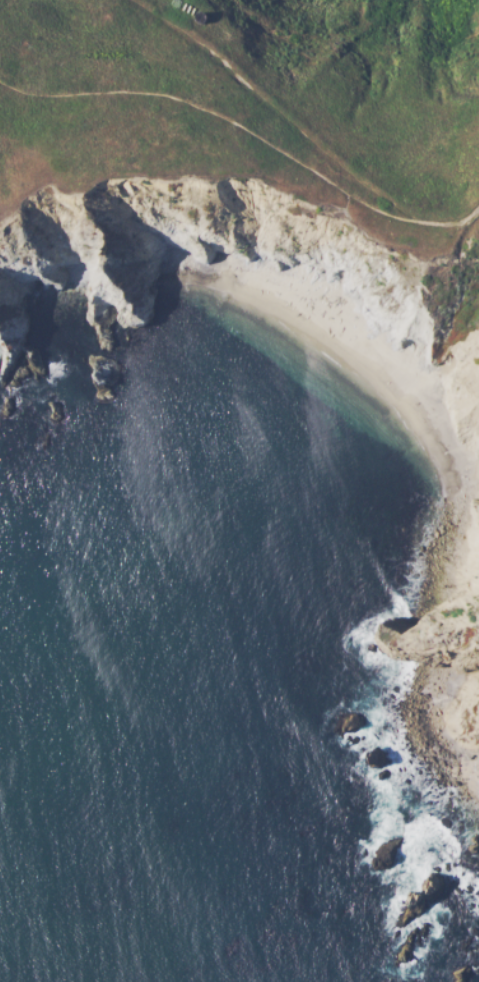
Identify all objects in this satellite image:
building: (184, 7)
storage tank: (184, 7)
building: (188, 9)
storage tank: (188, 9)
building: (192, 11)
storage tank: (192, 11)
building: (200, 20)
storage tank: (200, 20)
road: (276, 108)
road: (217, 115)
road: (448, 225)

